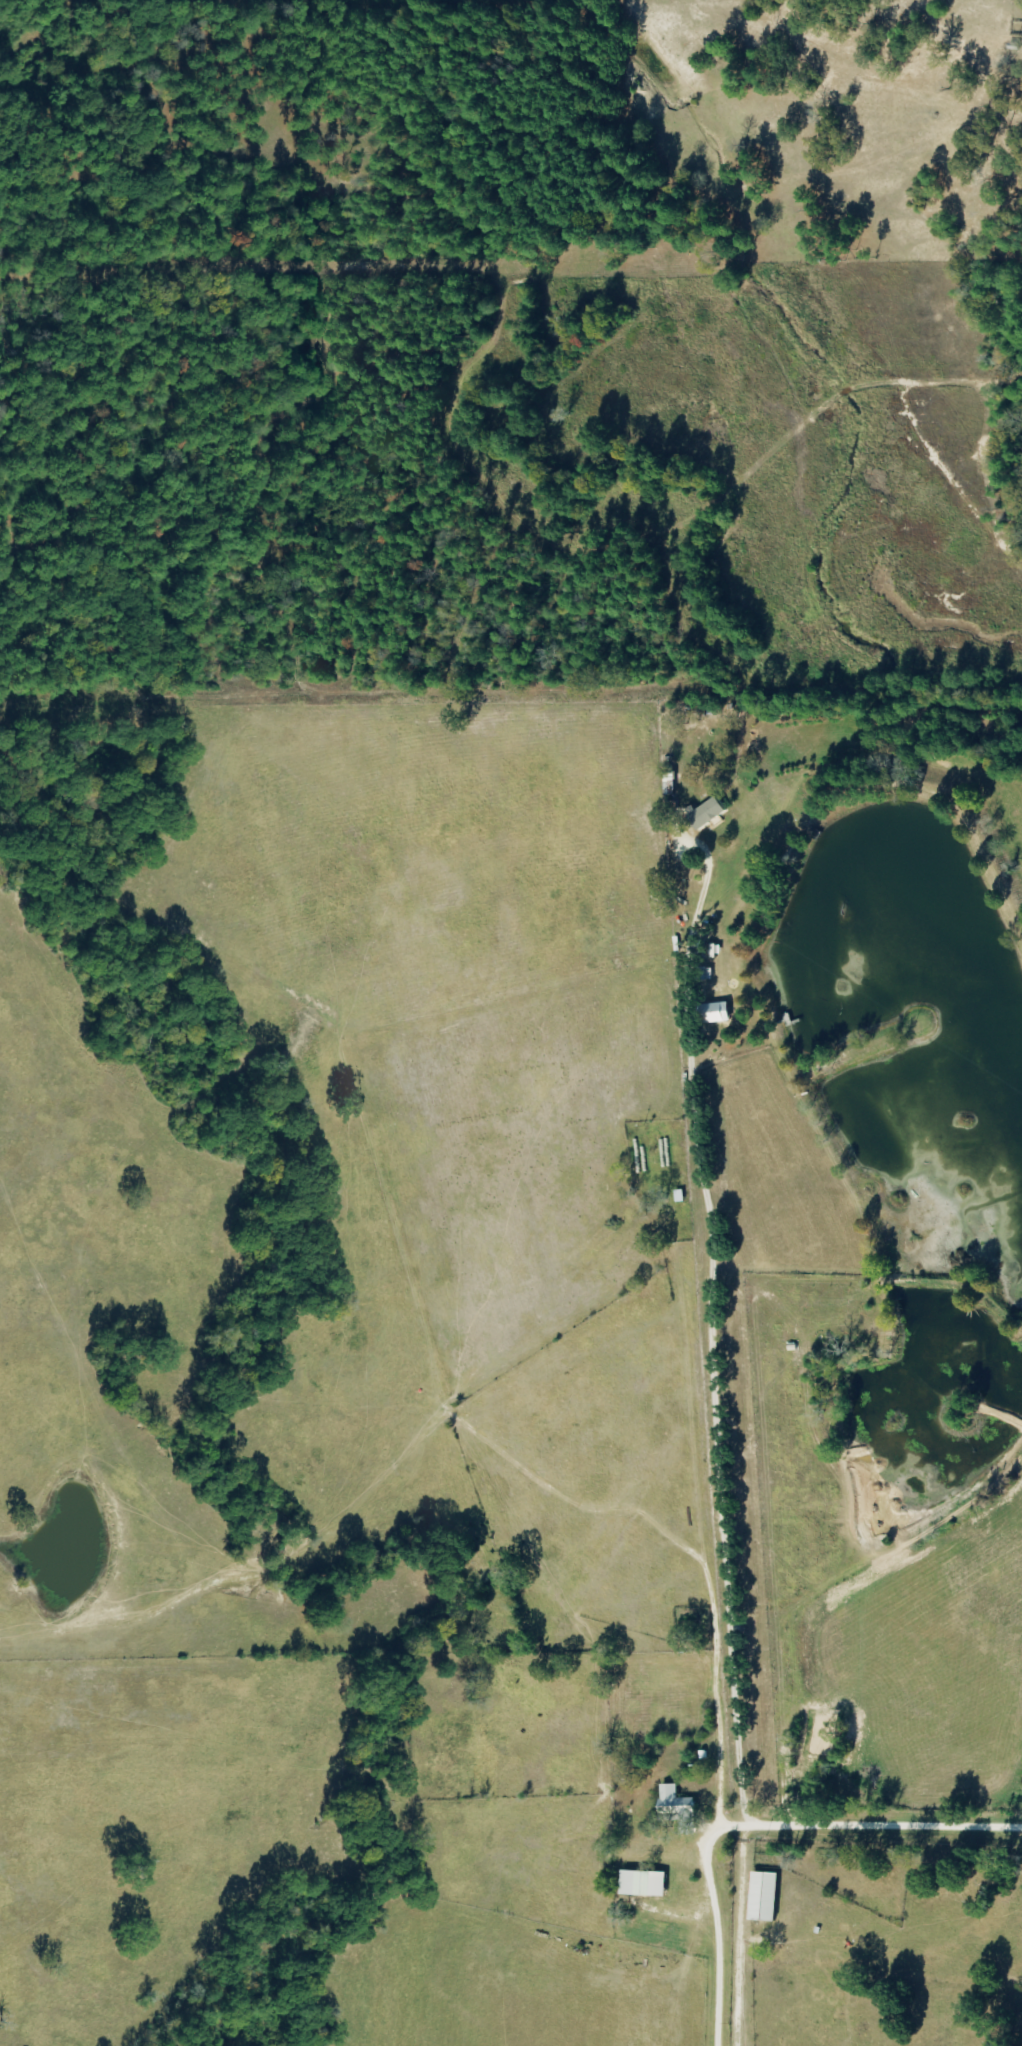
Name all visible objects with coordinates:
building: (670, 785)
building: (689, 816)
building: (716, 1013)
building: (654, 1177)
building: (672, 1804)
road: (758, 1816)
building: (639, 1883)
building: (761, 1896)

